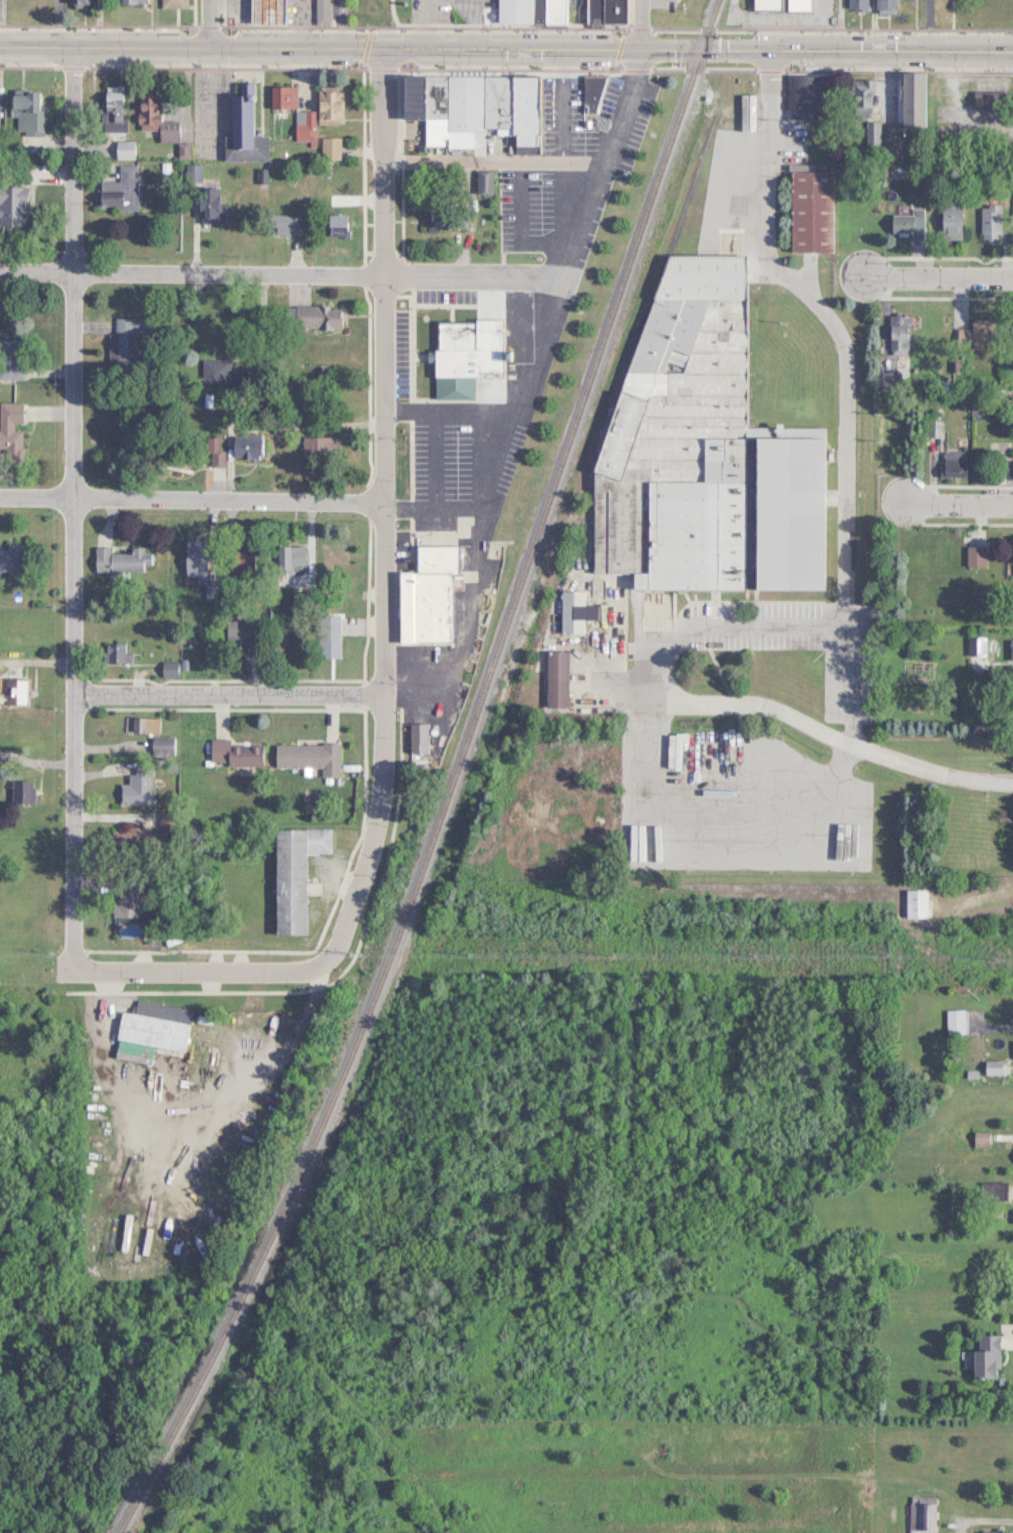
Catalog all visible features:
building: (76, 0)
building: (131, 1)
building: (171, 3)
building: (768, 4)
building: (797, 4)
building: (857, 4)
building: (885, 6)
road: (818, 10)
building: (264, 11)
building: (320, 12)
building: (530, 12)
building: (605, 12)
road: (766, 18)
road: (204, 21)
road: (635, 22)
road: (839, 23)
road: (930, 23)
road: (817, 33)
road: (506, 44)
building: (281, 97)
building: (590, 97)
building: (811, 97)
building: (986, 98)
building: (860, 99)
building: (911, 100)
building: (328, 104)
building: (476, 105)
building: (110, 110)
building: (24, 112)
building: (154, 119)
building: (303, 127)
road: (549, 130)
building: (242, 134)
building: (123, 147)
road: (466, 167)
building: (482, 182)
building: (117, 189)
building: (208, 203)
building: (11, 206)
building: (808, 207)
building: (949, 221)
building: (907, 222)
building: (990, 222)
building: (437, 223)
building: (282, 224)
building: (333, 224)
road: (940, 279)
road: (402, 284)
building: (315, 317)
building: (898, 333)
building: (978, 334)
building: (126, 339)
building: (463, 356)
building: (10, 358)
building: (214, 371)
road: (843, 381)
building: (1011, 409)
road: (518, 411)
building: (10, 426)
building: (933, 428)
railway: (565, 444)
building: (709, 444)
building: (247, 447)
building: (212, 451)
building: (315, 452)
building: (953, 463)
building: (1012, 469)
road: (191, 500)
road: (958, 504)
road: (74, 506)
road: (489, 510)
road: (383, 512)
building: (975, 556)
building: (1012, 556)
building: (11, 559)
building: (119, 560)
building: (334, 561)
building: (425, 594)
building: (573, 612)
road: (721, 623)
road: (466, 631)
building: (327, 636)
building: (254, 637)
building: (975, 646)
building: (1011, 649)
building: (113, 653)
building: (555, 679)
building: (12, 692)
road: (229, 697)
building: (143, 725)
road: (827, 733)
building: (415, 735)
building: (231, 753)
building: (308, 757)
building: (135, 790)
building: (21, 792)
road: (712, 802)
building: (292, 874)
building: (127, 896)
building: (915, 902)
road: (199, 971)
building: (955, 1021)
building: (153, 1025)
road: (994, 1025)
railway: (278, 1214)
building: (985, 1355)
building: (919, 1516)
road: (986, 1518)
building: (996, 1531)

